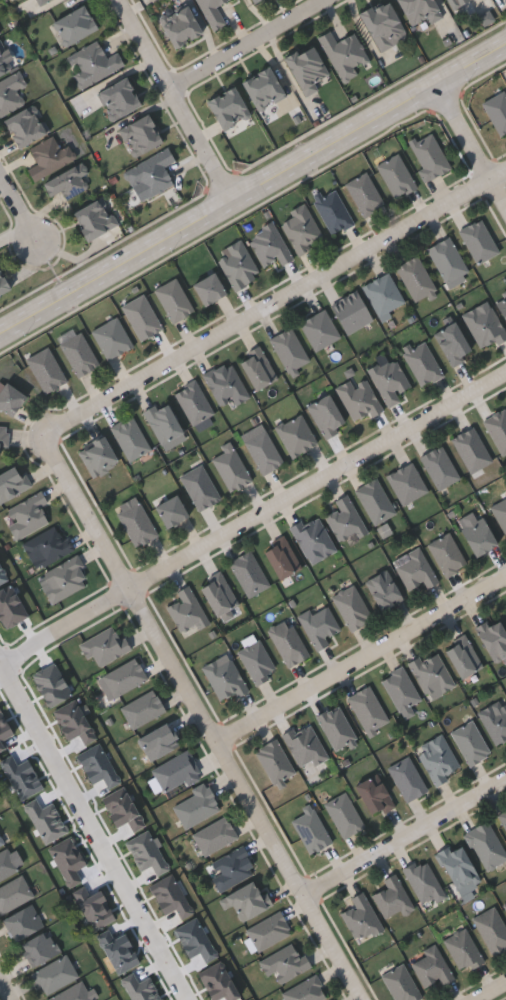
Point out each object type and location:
building: (254, 0)
building: (42, 1)
building: (454, 3)
building: (421, 10)
building: (213, 12)
building: (382, 23)
building: (74, 25)
building: (181, 25)
building: (0, 32)
building: (0, 35)
road: (246, 44)
building: (345, 53)
building: (4, 63)
building: (94, 63)
building: (307, 68)
building: (264, 87)
building: (11, 92)
building: (120, 98)
road: (176, 102)
building: (228, 107)
building: (497, 111)
building: (26, 126)
building: (141, 135)
road: (472, 145)
building: (429, 156)
building: (49, 157)
building: (152, 172)
building: (396, 175)
road: (499, 175)
building: (67, 181)
road: (252, 192)
building: (364, 194)
road: (19, 206)
building: (332, 211)
building: (95, 218)
building: (301, 228)
building: (478, 241)
building: (269, 245)
building: (447, 260)
building: (237, 264)
building: (415, 278)
building: (3, 283)
building: (208, 289)
building: (382, 293)
building: (174, 300)
building: (502, 304)
road: (268, 307)
building: (350, 312)
building: (141, 317)
building: (484, 326)
building: (319, 330)
building: (111, 338)
building: (452, 343)
building: (289, 350)
building: (79, 354)
building: (422, 363)
building: (257, 368)
building: (46, 369)
building: (388, 379)
building: (226, 385)
building: (10, 398)
building: (358, 399)
building: (193, 402)
building: (326, 415)
building: (162, 422)
building: (497, 429)
building: (295, 435)
building: (3, 436)
building: (130, 438)
building: (471, 449)
building: (263, 452)
building: (97, 457)
building: (439, 467)
building: (231, 469)
building: (13, 482)
building: (406, 483)
building: (199, 487)
building: (374, 501)
building: (170, 512)
building: (500, 514)
building: (26, 515)
building: (344, 520)
building: (135, 522)
road: (257, 522)
building: (312, 537)
building: (478, 537)
building: (47, 546)
building: (447, 554)
building: (281, 557)
building: (415, 570)
building: (248, 573)
building: (64, 579)
building: (383, 590)
building: (217, 594)
building: (352, 607)
building: (505, 608)
building: (186, 610)
building: (318, 625)
building: (493, 638)
building: (287, 642)
building: (104, 645)
building: (462, 656)
road: (362, 660)
building: (257, 661)
road: (177, 663)
building: (431, 675)
building: (124, 677)
building: (224, 678)
building: (400, 690)
building: (142, 708)
building: (367, 709)
building: (495, 721)
building: (336, 727)
building: (158, 742)
building: (470, 742)
building: (304, 745)
building: (437, 759)
building: (274, 761)
building: (176, 773)
building: (406, 778)
building: (373, 795)
building: (194, 806)
building: (344, 815)
building: (503, 818)
road: (97, 826)
building: (310, 829)
building: (214, 835)
road: (405, 838)
building: (1, 840)
building: (485, 845)
building: (6, 863)
building: (458, 866)
building: (231, 867)
building: (422, 879)
building: (13, 892)
building: (391, 897)
building: (245, 900)
building: (504, 905)
building: (360, 917)
building: (22, 921)
building: (492, 929)
building: (268, 930)
building: (38, 948)
road: (334, 948)
building: (462, 950)
building: (284, 963)
building: (431, 966)
building: (54, 973)
road: (5, 989)
building: (305, 990)
road: (491, 991)
building: (73, 993)

